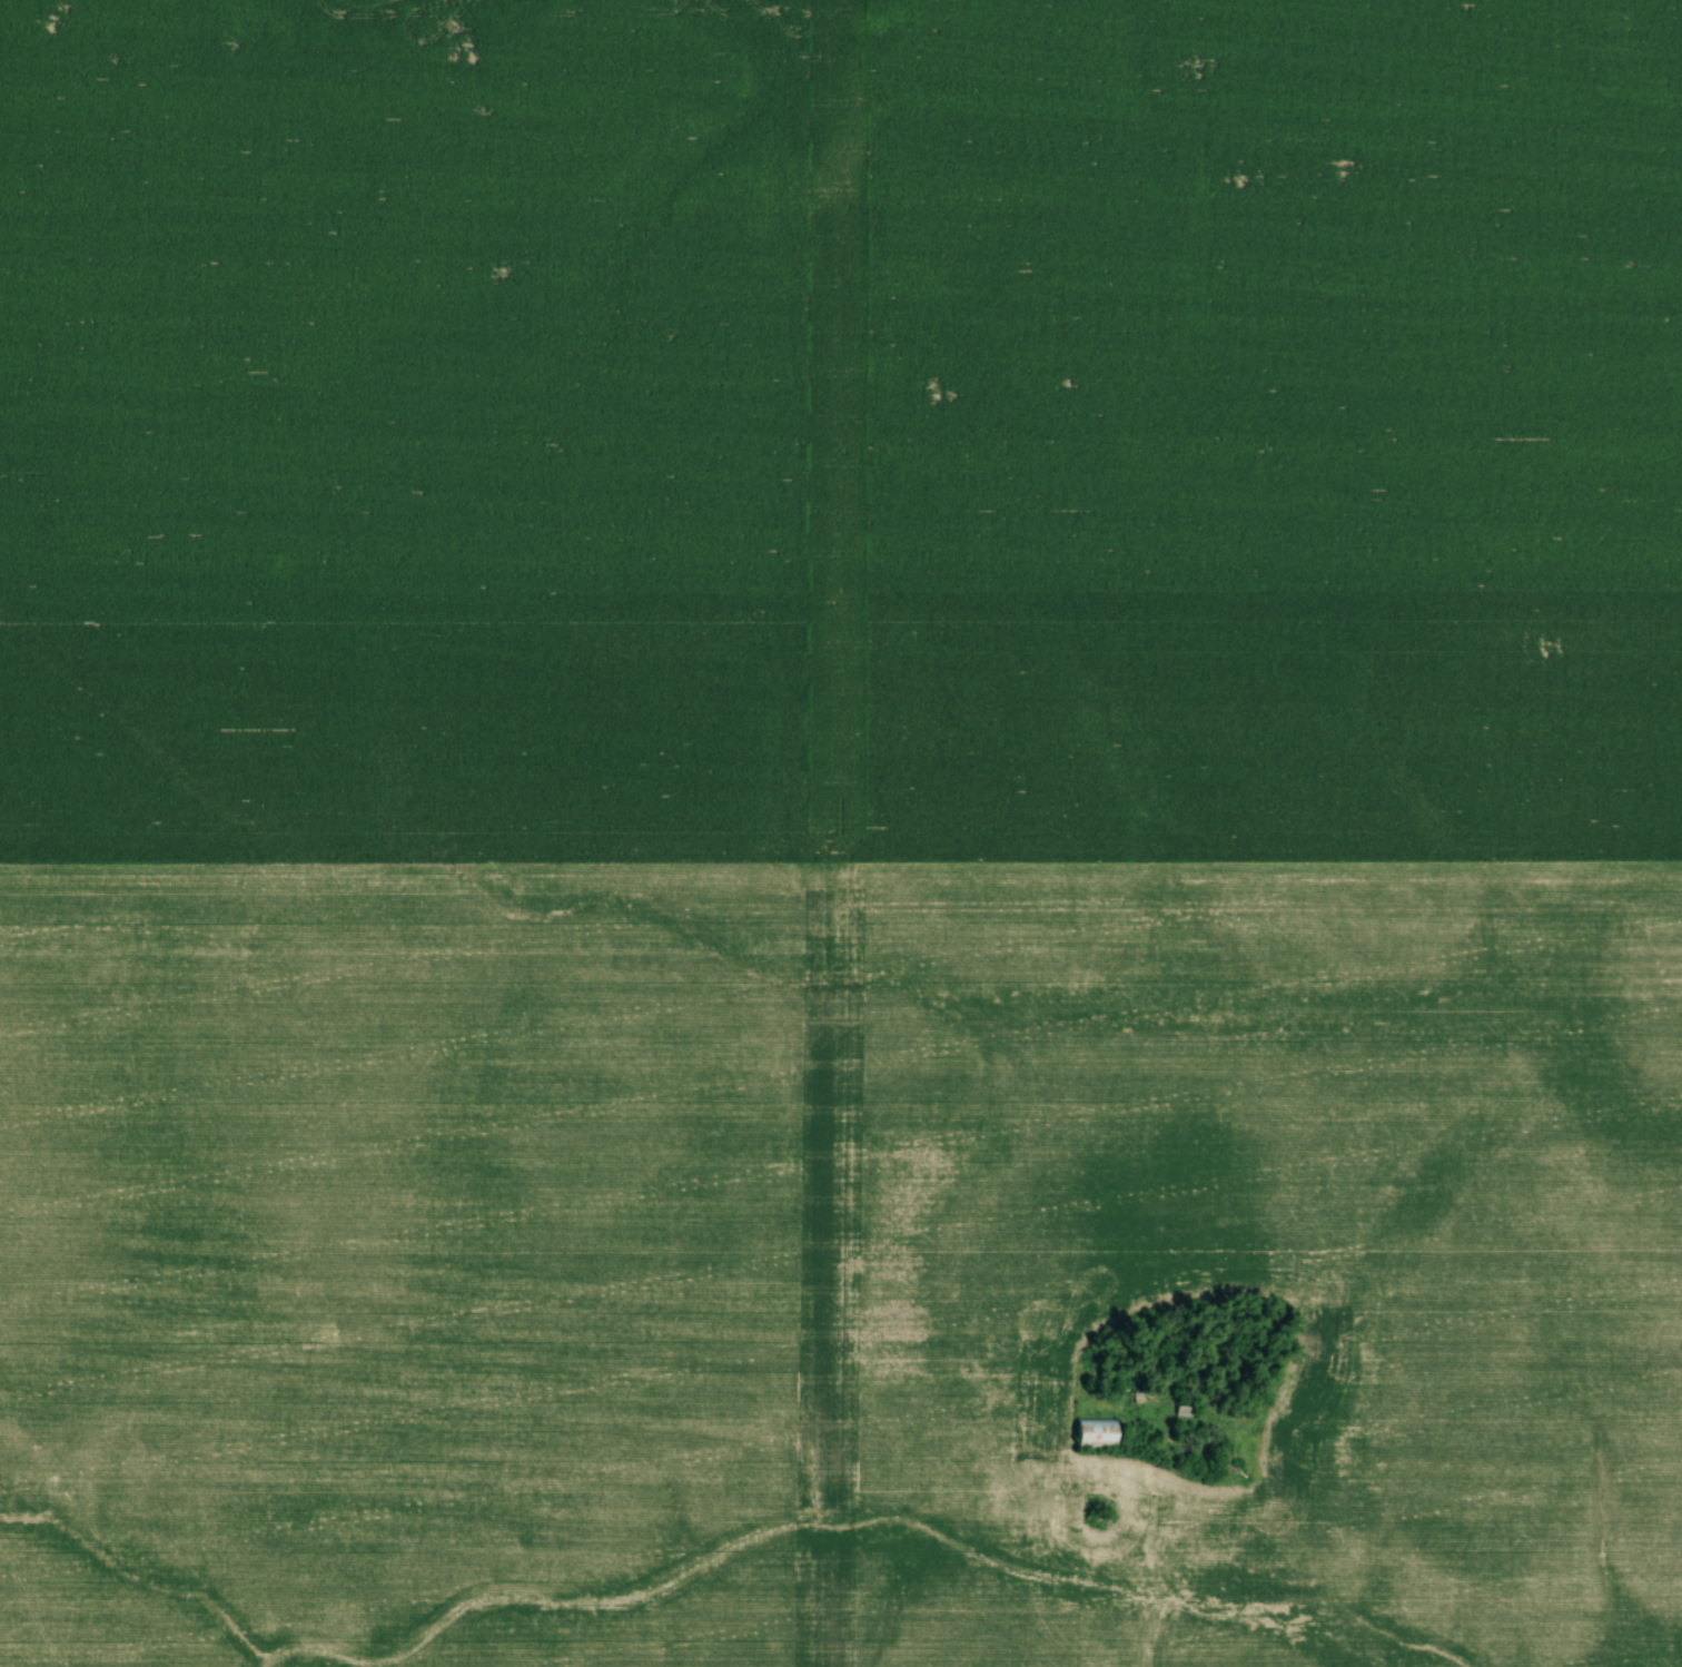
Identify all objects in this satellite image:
building: (1186, 1412)
building: (1097, 1430)
road: (1152, 1570)

